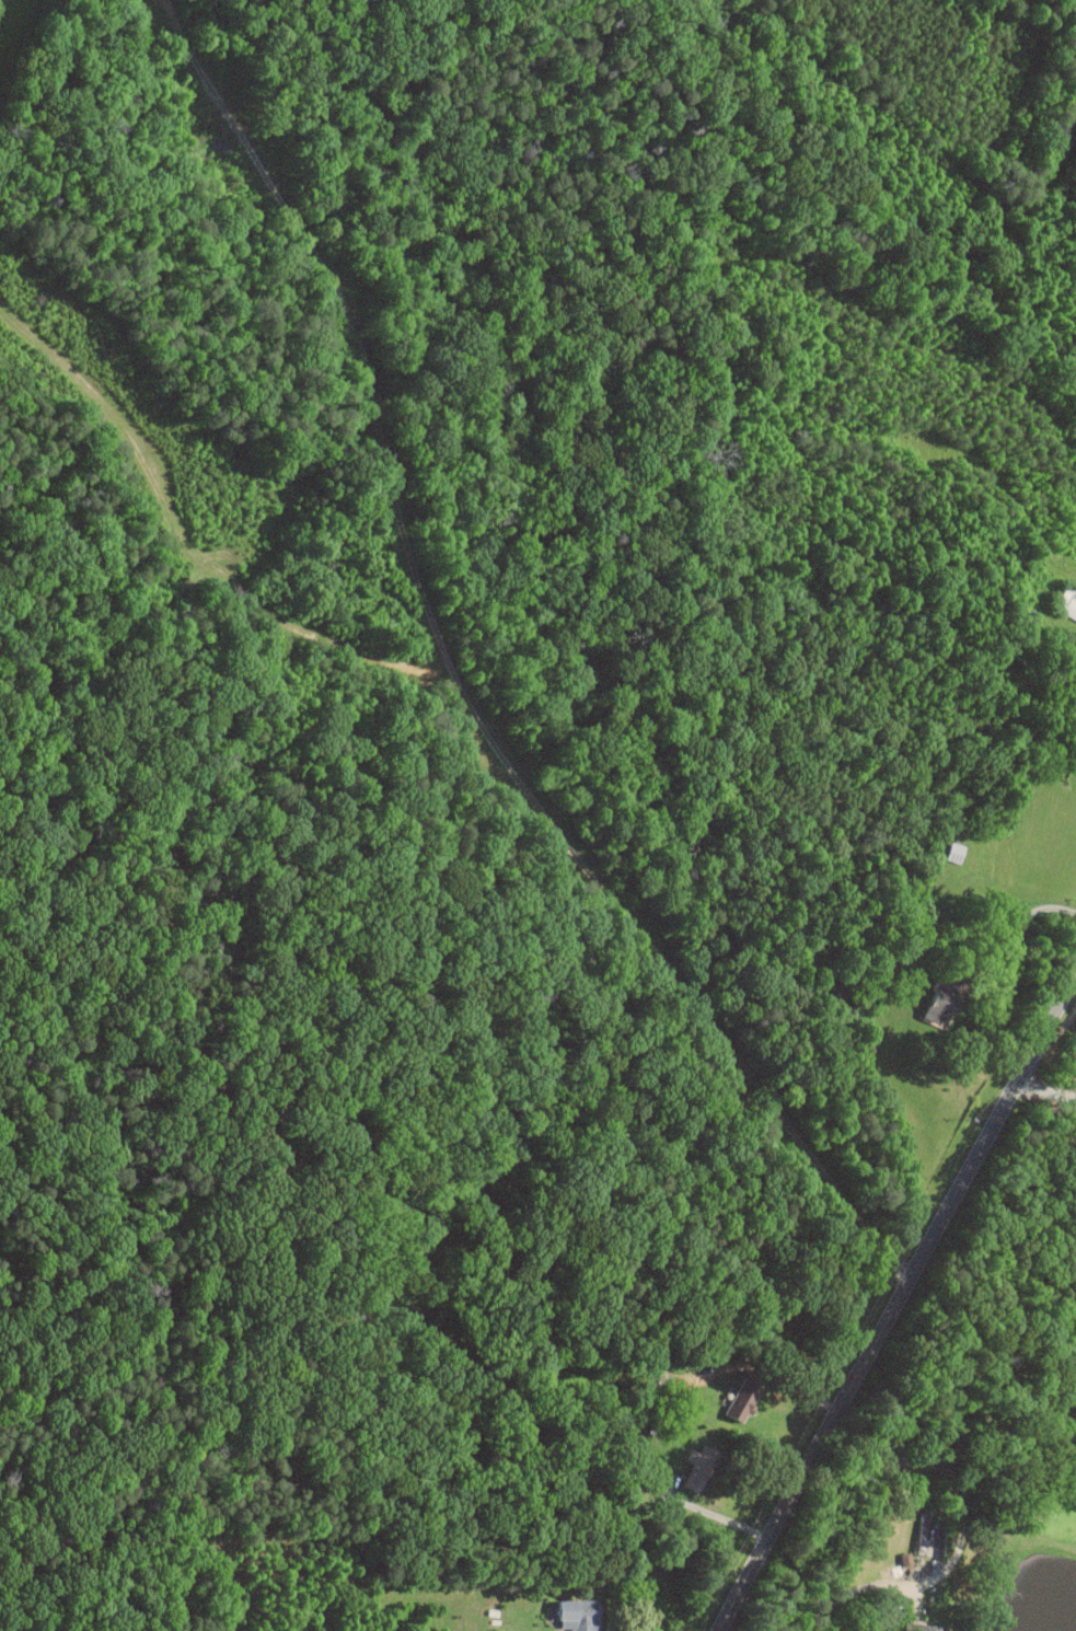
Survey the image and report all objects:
road: (1018, 925)
road: (1046, 1090)
road: (896, 1302)
building: (744, 1398)
building: (702, 1467)
road: (889, 1508)
road: (714, 1513)
building: (927, 1534)
dam: (1056, 1566)
building: (579, 1615)

